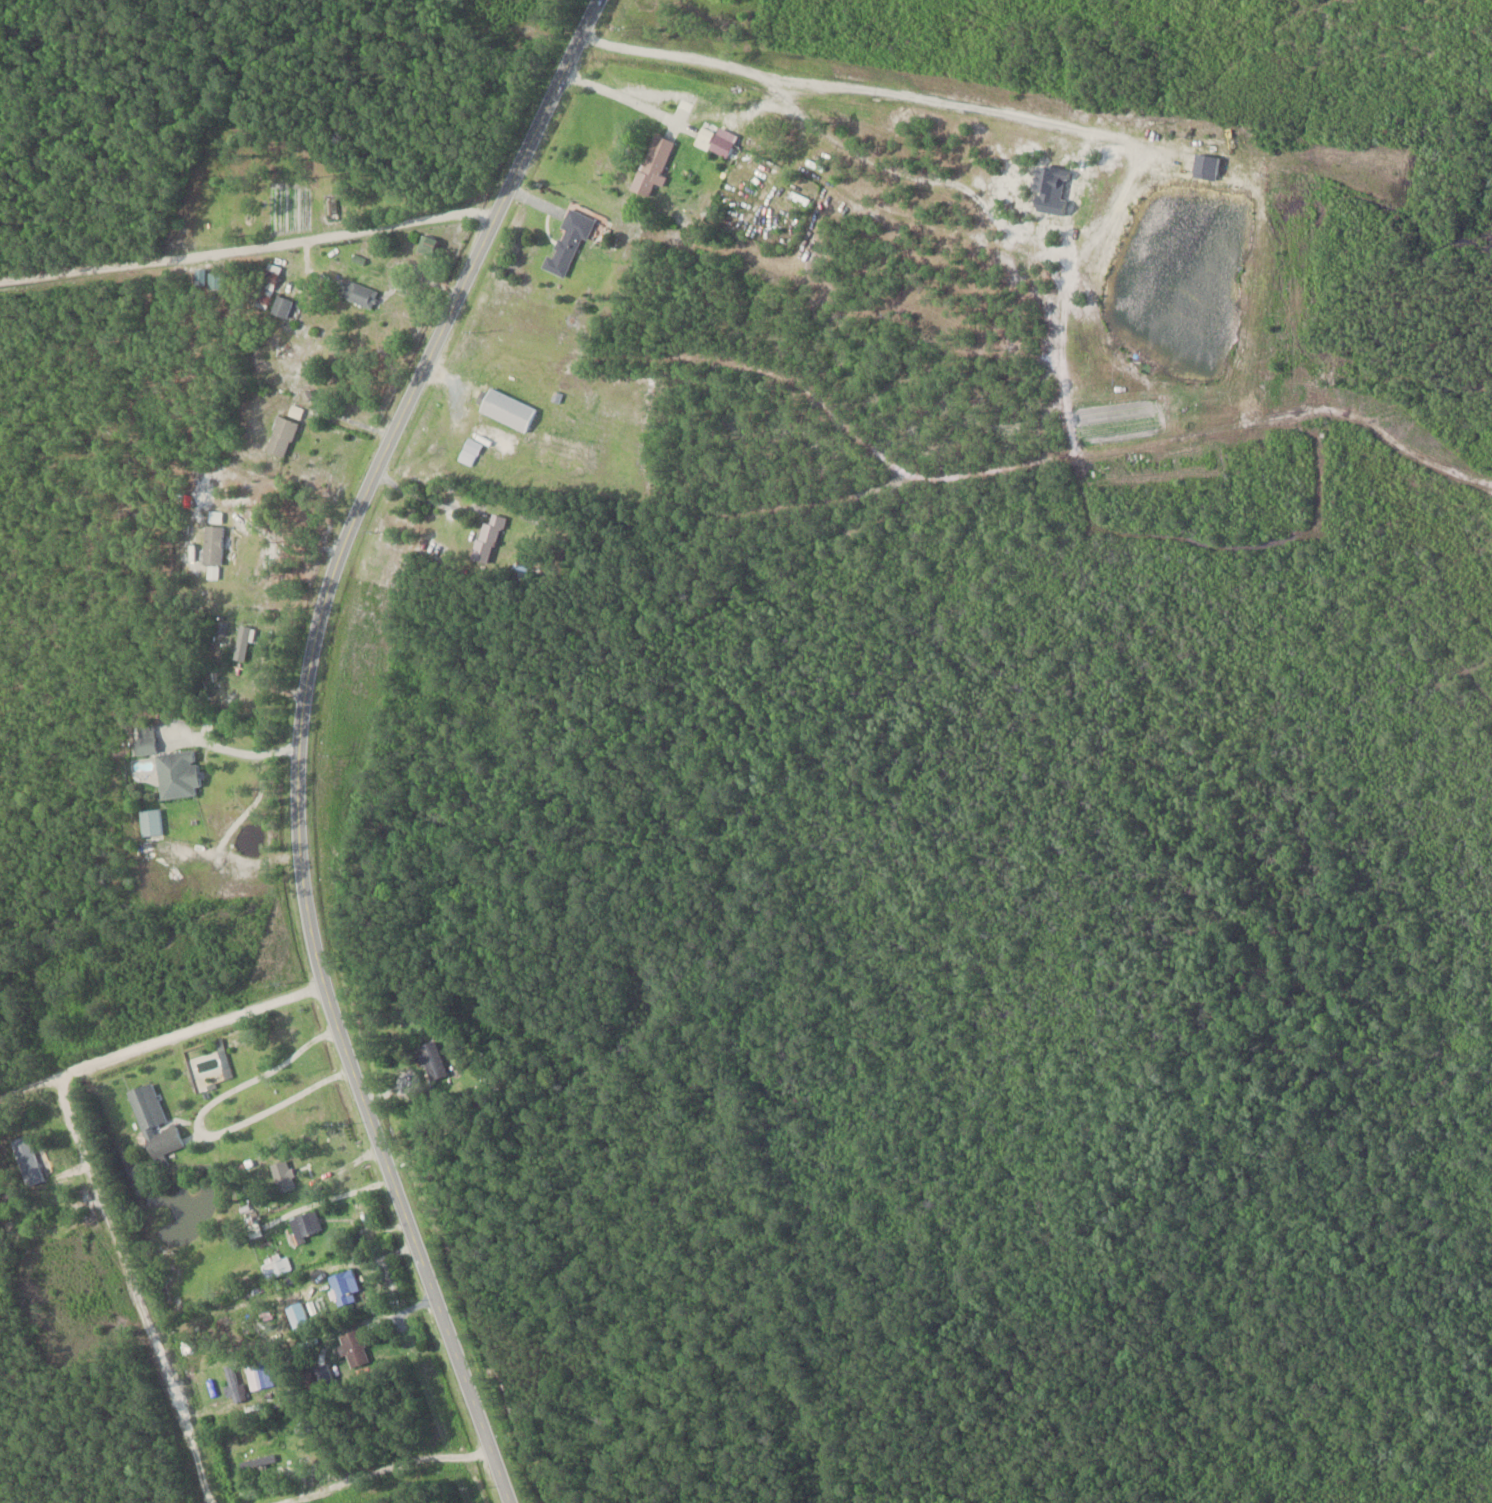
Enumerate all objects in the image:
building: (705, 134)
building: (651, 164)
building: (566, 242)
building: (425, 244)
road: (249, 250)
building: (268, 278)
building: (213, 281)
building: (357, 293)
building: (281, 305)
building: (506, 408)
building: (280, 435)
building: (468, 450)
road: (427, 496)
road: (281, 534)
building: (486, 539)
building: (211, 544)
building: (143, 738)
road: (298, 738)
building: (176, 773)
road: (239, 820)
building: (149, 822)
road: (160, 1038)
building: (429, 1060)
building: (151, 1122)
building: (26, 1160)
building: (281, 1176)
building: (304, 1225)
building: (342, 1287)
road: (141, 1288)
building: (352, 1348)
building: (259, 1374)
road: (386, 1467)

